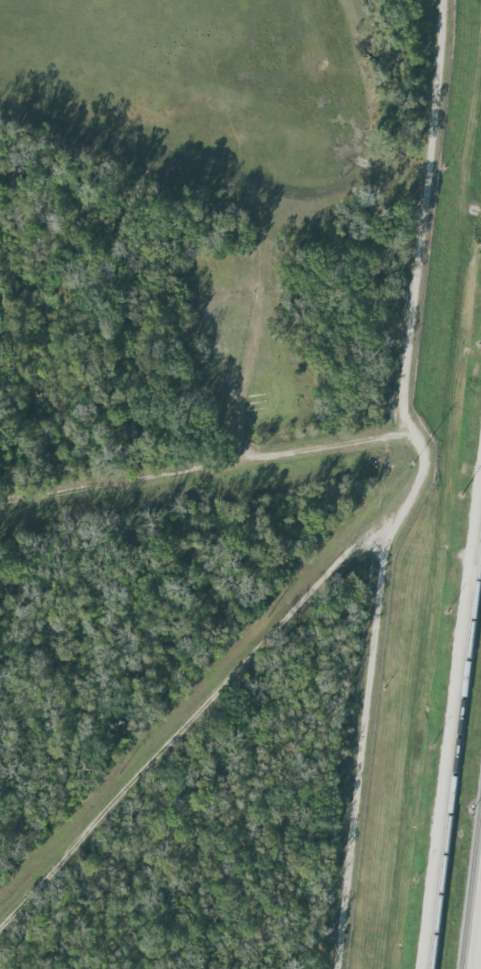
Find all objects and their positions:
road: (206, 469)
road: (417, 485)
road: (189, 719)
railway: (455, 753)
railway: (469, 875)

